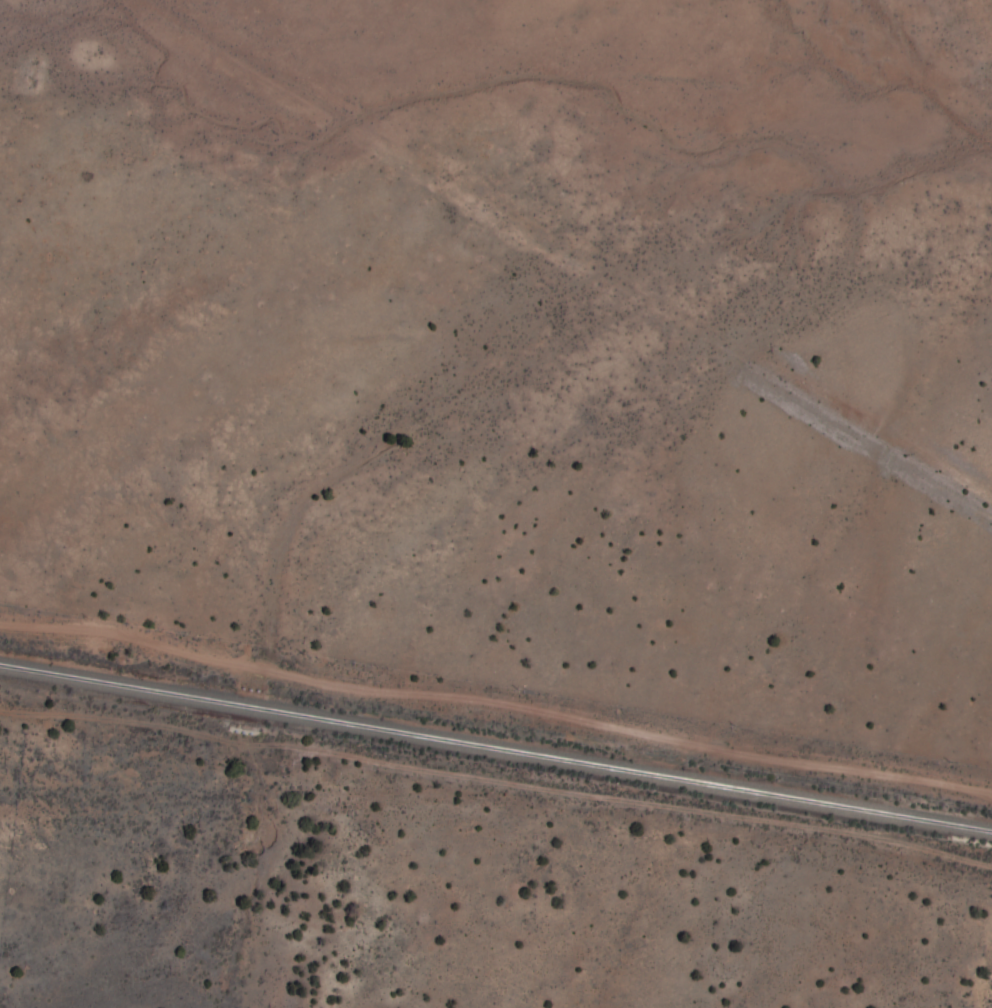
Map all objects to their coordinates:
railway: (495, 749)

